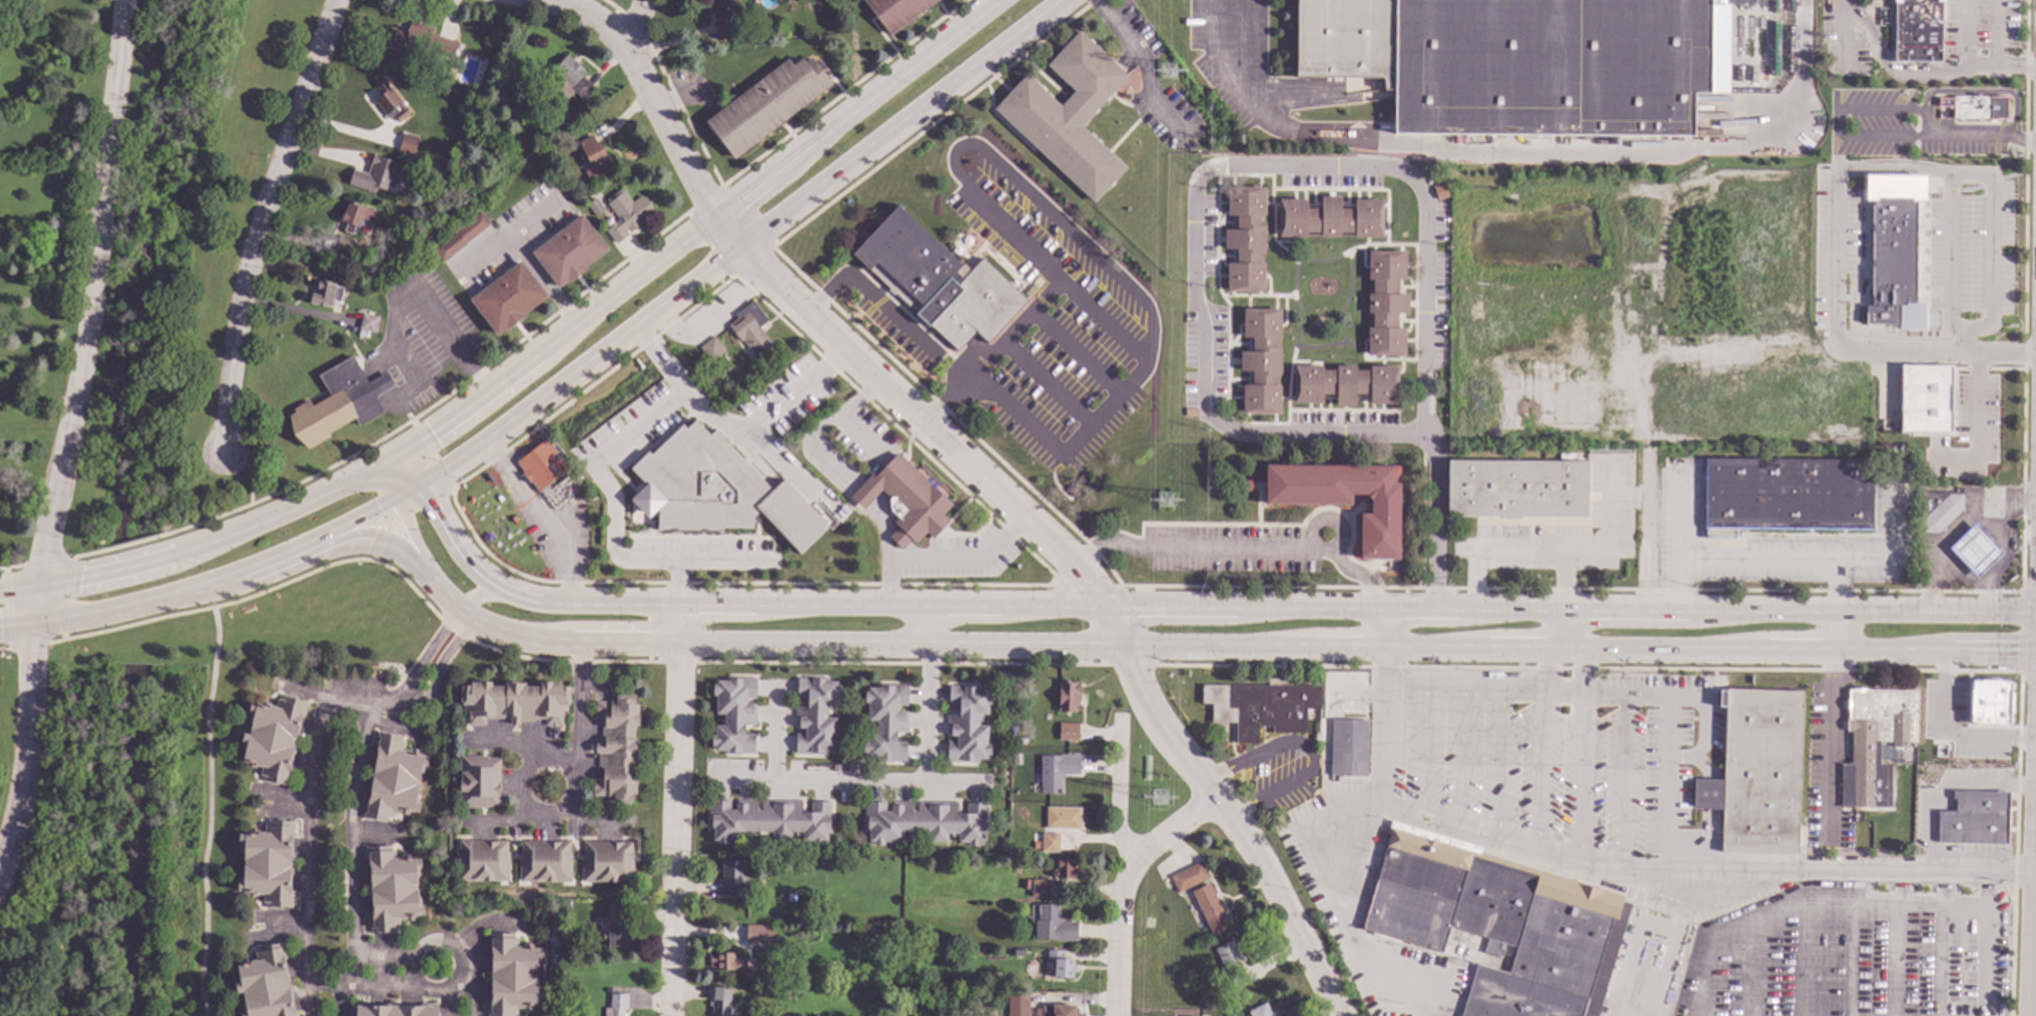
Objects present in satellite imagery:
building: (896, 12)
building: (726, 18)
road: (633, 23)
road: (1844, 29)
building: (1916, 30)
road: (1969, 32)
road: (1998, 32)
building: (420, 41)
building: (1524, 61)
road: (1144, 64)
road: (1922, 68)
power tower: (1172, 71)
building: (572, 79)
building: (447, 80)
road: (1311, 91)
building: (477, 93)
building: (390, 102)
building: (766, 104)
building: (1972, 107)
building: (1944, 108)
building: (1068, 115)
road: (1982, 135)
building: (407, 144)
road: (1522, 146)
building: (595, 159)
road: (1288, 170)
building: (560, 171)
road: (1854, 171)
building: (374, 174)
building: (1441, 192)
building: (594, 207)
building: (626, 215)
building: (358, 216)
building: (1330, 218)
road: (260, 222)
road: (700, 225)
building: (459, 237)
building: (1245, 239)
road: (744, 245)
building: (345, 248)
building: (569, 251)
building: (1893, 251)
park: (183, 257)
road: (1948, 258)
river: (166, 266)
road: (540, 281)
building: (937, 281)
building: (325, 293)
building: (507, 299)
road: (870, 299)
building: (1385, 303)
building: (368, 323)
building: (751, 331)
road: (445, 332)
road: (1010, 332)
building: (362, 333)
building: (711, 349)
road: (1998, 354)
building: (1260, 360)
building: (1344, 384)
road: (950, 396)
building: (1925, 400)
building: (338, 403)
road: (765, 412)
building: (1189, 412)
road: (836, 419)
road: (1975, 424)
traffic signals: (432, 432)
road: (66, 436)
road: (432, 453)
road: (250, 465)
building: (541, 465)
road: (594, 470)
road: (982, 477)
road: (461, 481)
building: (1249, 484)
building: (1516, 488)
building: (715, 490)
building: (1073, 491)
building: (1785, 494)
building: (1343, 498)
power tower: (1167, 500)
building: (906, 501)
road: (247, 504)
traffic signals: (433, 506)
building: (1938, 510)
road: (383, 514)
traffic signals: (383, 515)
road: (402, 515)
road: (405, 519)
road: (538, 519)
road: (1952, 528)
road: (230, 535)
traffic signals: (371, 541)
road: (390, 545)
road: (1238, 548)
building: (1974, 550)
road: (1726, 552)
road: (1536, 554)
road: (939, 559)
road: (723, 561)
road: (48, 562)
road: (15, 566)
road: (1998, 572)
road: (20, 586)
road: (174, 598)
road: (1990, 598)
road: (67, 599)
river: (131, 600)
road: (213, 606)
road: (1181, 608)
road: (1564, 625)
road: (8, 627)
road: (1404, 627)
road: (2020, 630)
road: (1219, 648)
road: (434, 653)
traffic signals: (2016, 653)
road: (1830, 694)
road: (1612, 695)
road: (932, 696)
building: (1068, 697)
building: (1988, 701)
building: (515, 702)
road: (580, 705)
building: (1263, 708)
building: (734, 716)
building: (816, 717)
building: (886, 723)
building: (967, 725)
road: (775, 732)
building: (1068, 732)
road: (1953, 734)
building: (274, 738)
building: (1317, 739)
building: (1021, 741)
building: (1876, 741)
building: (1349, 748)
building: (616, 749)
road: (1307, 752)
building: (1016, 759)
building: (1761, 772)
building: (1057, 773)
road: (522, 775)
building: (1908, 775)
building: (393, 778)
building: (479, 781)
road: (849, 783)
road: (1116, 789)
power tower: (1163, 797)
road: (208, 811)
road: (676, 811)
building: (1063, 819)
building: (1975, 819)
building: (769, 820)
building: (924, 822)
road: (352, 828)
park: (100, 835)
river: (143, 841)
building: (1050, 844)
road: (306, 845)
building: (1035, 845)
building: (483, 861)
building: (545, 862)
building: (607, 862)
building: (268, 864)
road: (1604, 866)
building: (786, 869)
building: (1065, 870)
building: (1189, 877)
building: (731, 878)
road: (1120, 883)
building: (392, 889)
building: (1040, 889)
road: (2031, 889)
road: (1723, 890)
building: (564, 903)
building: (1211, 910)
building: (1499, 923)
building: (1053, 925)
building: (617, 927)
building: (759, 935)
building: (964, 941)
road: (1631, 947)
building: (1020, 954)
road: (1669, 954)
building: (727, 962)
building: (1233, 964)
road: (463, 965)
building: (1060, 965)
road: (353, 973)
building: (511, 975)
building: (265, 984)
building: (790, 996)
building: (721, 1002)
building: (958, 1002)
building: (978, 1002)
building: (617, 1004)
building: (1064, 1008)
building: (394, 1009)
building: (1261, 1011)
building: (560, 1015)

